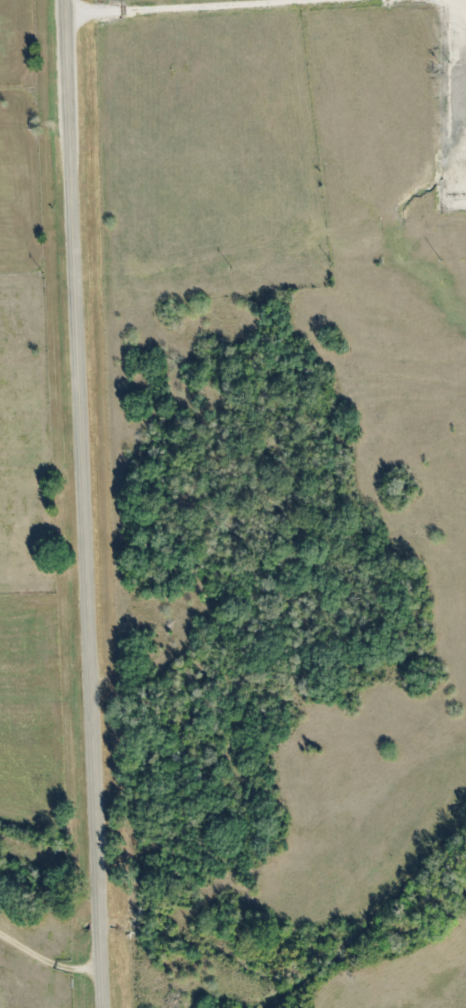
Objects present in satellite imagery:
road: (178, 6)
road: (33, 125)
road: (82, 504)
road: (47, 962)

